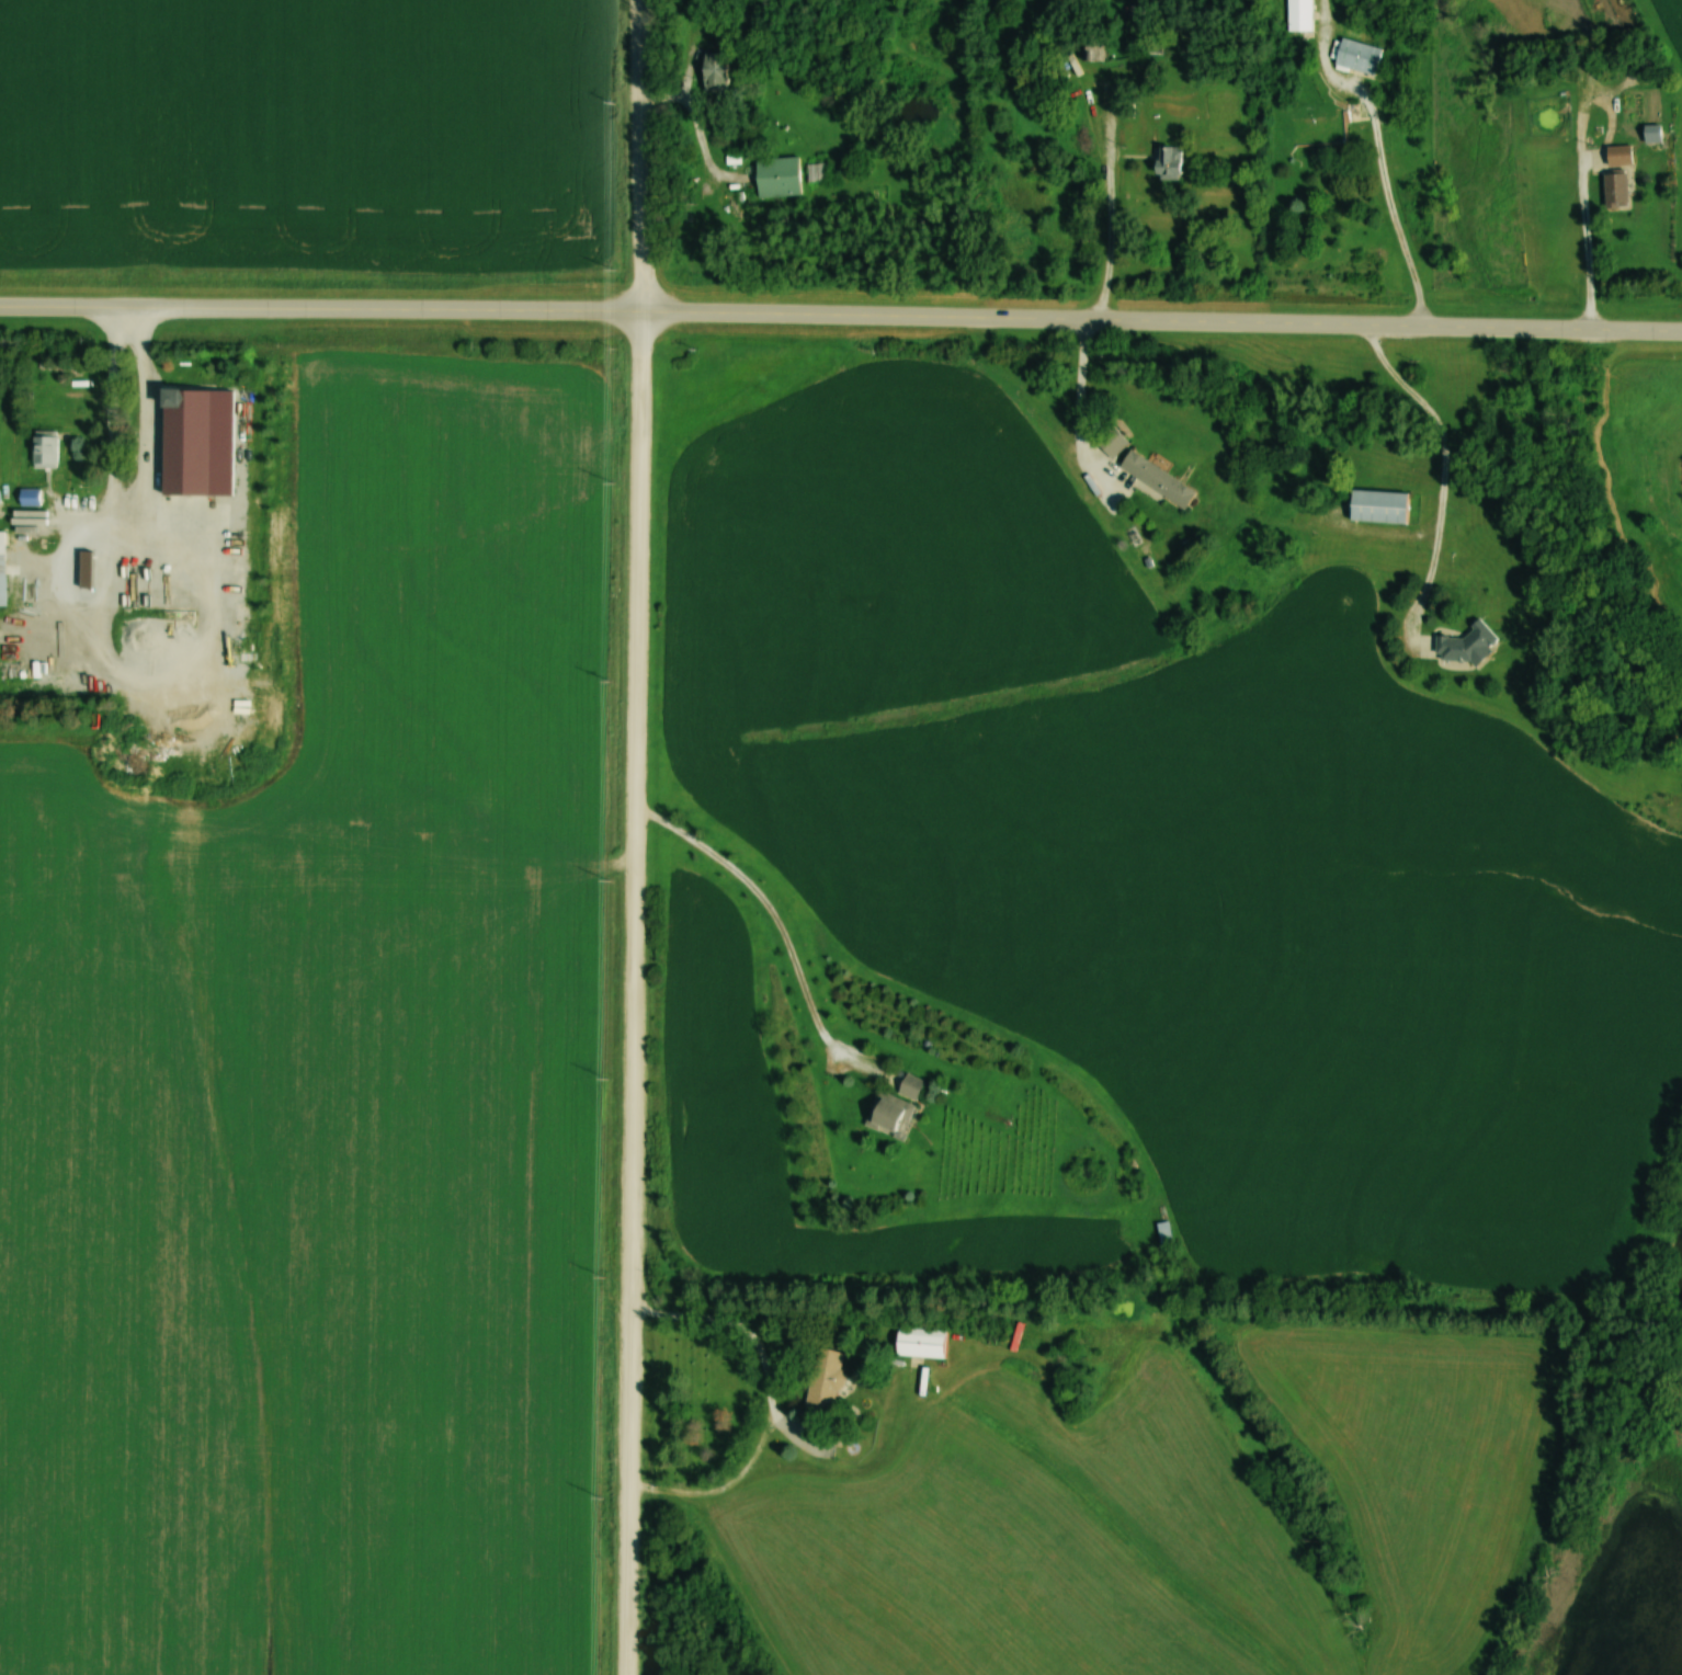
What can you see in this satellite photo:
building: (1298, 15)
building: (1091, 45)
building: (1356, 56)
building: (714, 72)
building: (1618, 153)
road: (1380, 157)
building: (1167, 161)
building: (817, 171)
building: (776, 176)
building: (1615, 189)
road: (1110, 239)
road: (1587, 246)
road: (841, 314)
road: (1080, 394)
building: (1111, 441)
building: (44, 448)
road: (1444, 466)
building: (1156, 478)
building: (29, 497)
road: (134, 498)
building: (1377, 505)
building: (1, 568)
building: (149, 571)
building: (90, 572)
building: (1464, 645)
road: (636, 836)
road: (782, 933)
building: (910, 1085)
building: (889, 1115)
building: (1163, 1231)
building: (919, 1343)
building: (825, 1379)
road: (771, 1404)

